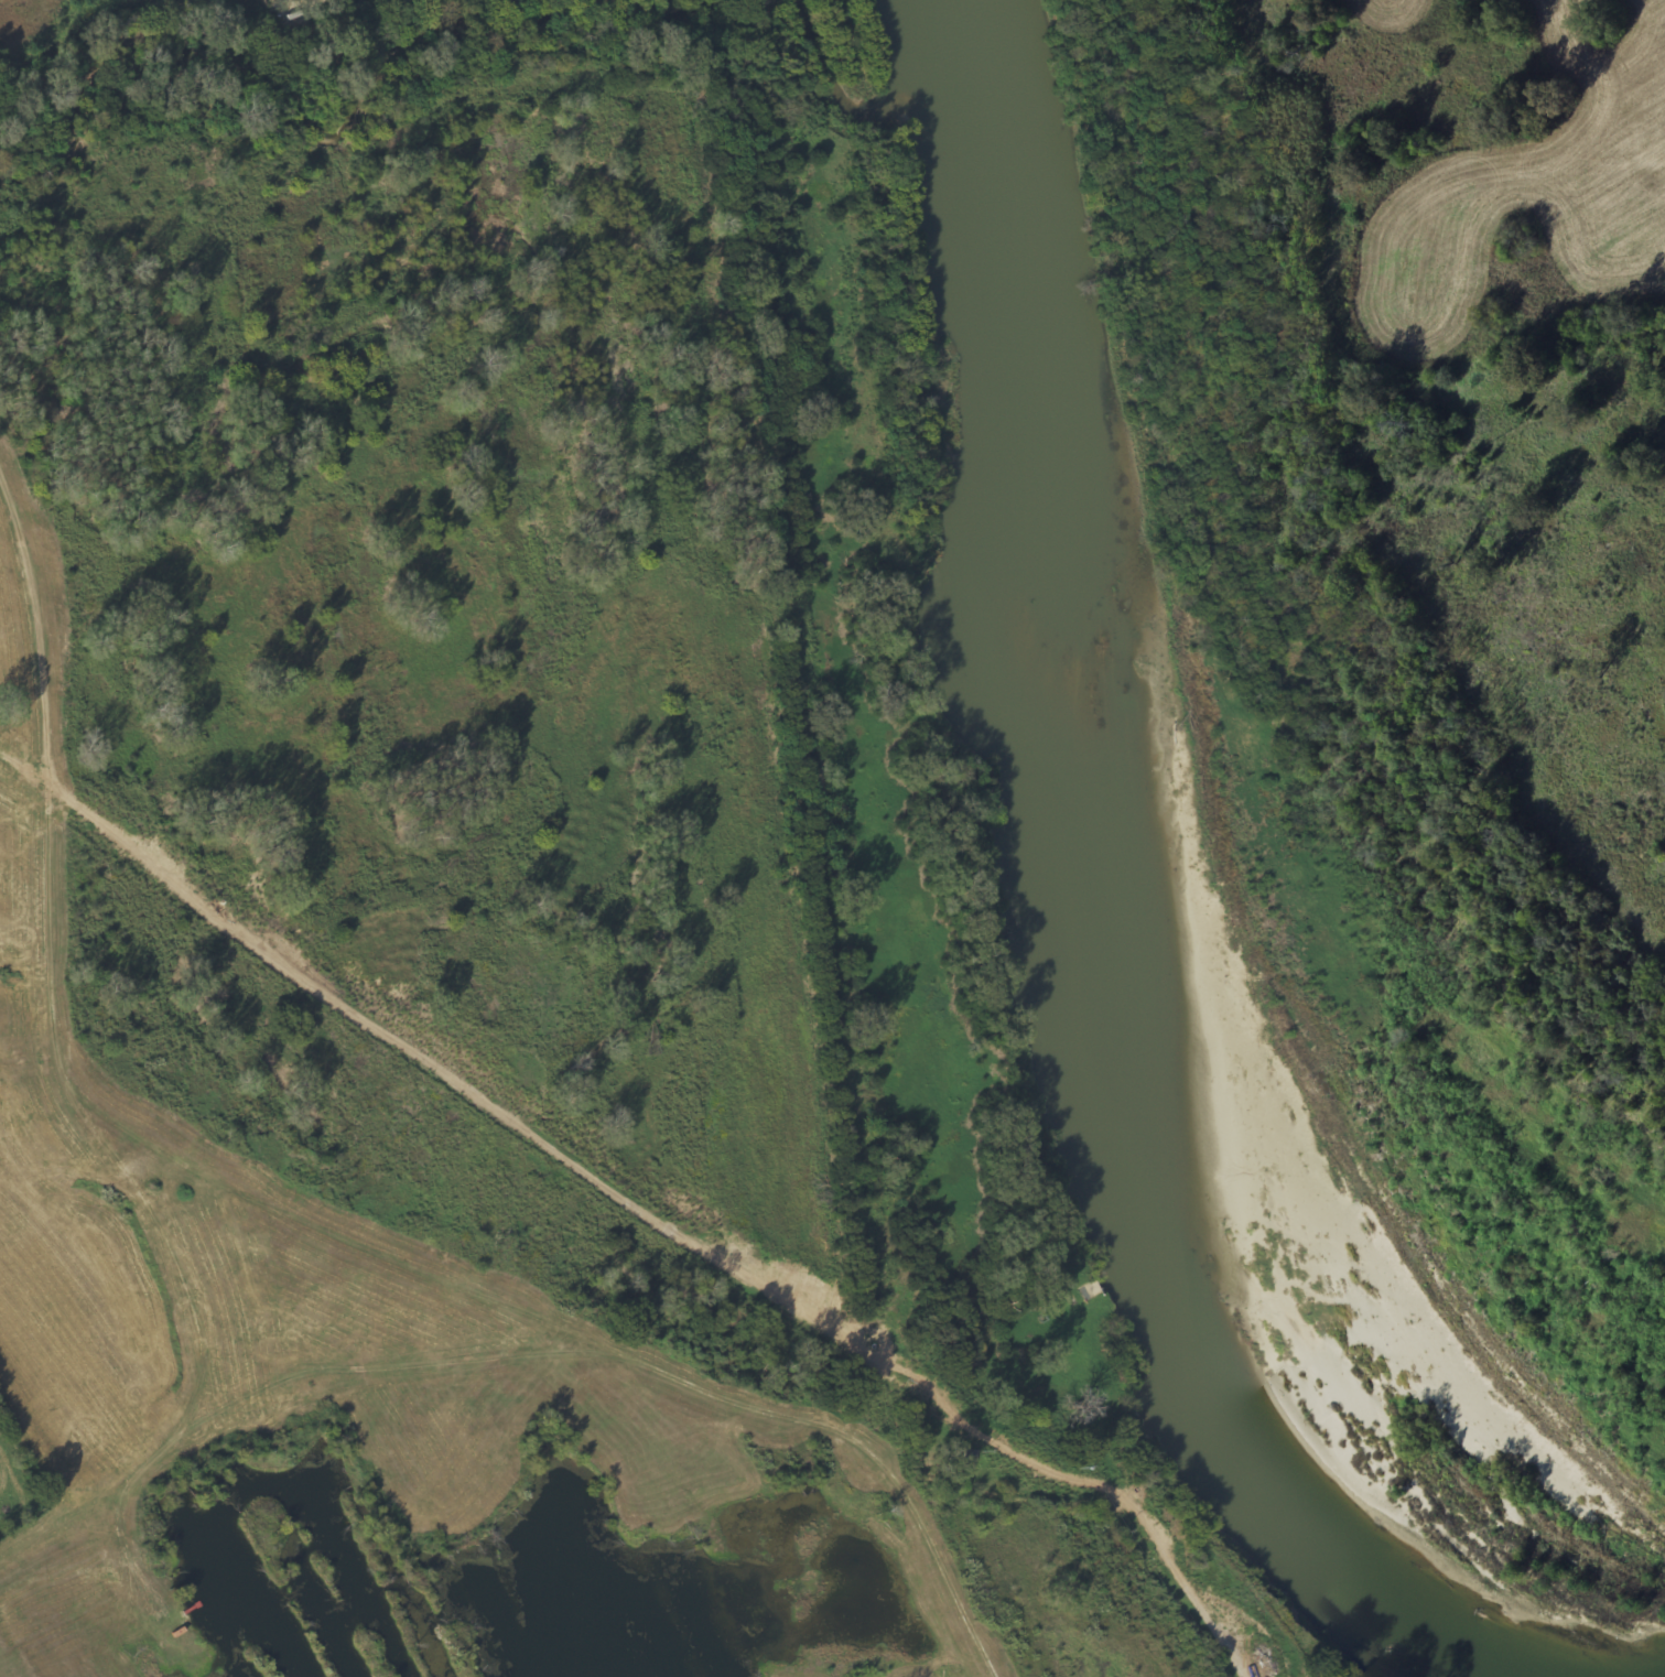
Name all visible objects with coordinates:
river: (1149, 899)
building: (965, 1458)

